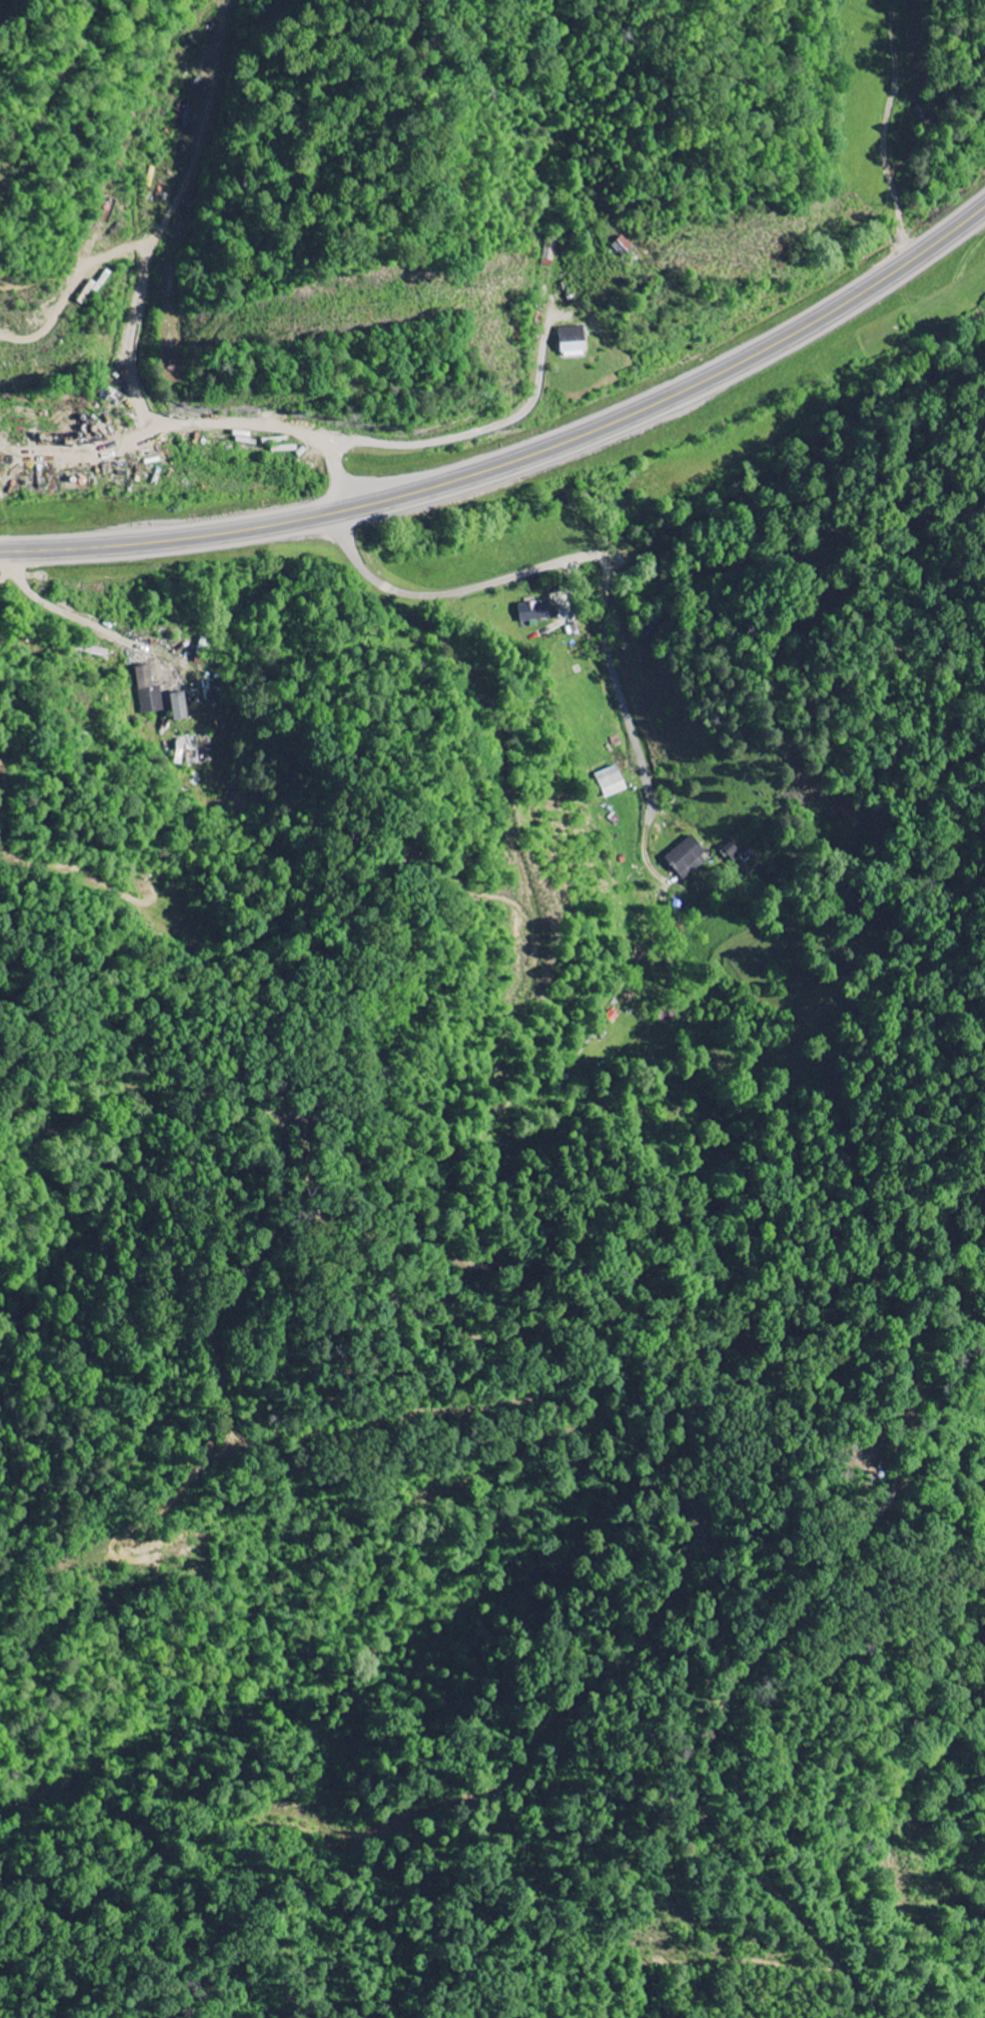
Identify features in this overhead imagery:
road: (906, 132)
building: (573, 343)
road: (519, 457)
road: (465, 587)
building: (536, 611)
road: (621, 670)
building: (149, 691)
building: (179, 706)
building: (612, 782)
building: (732, 854)
building: (689, 858)

